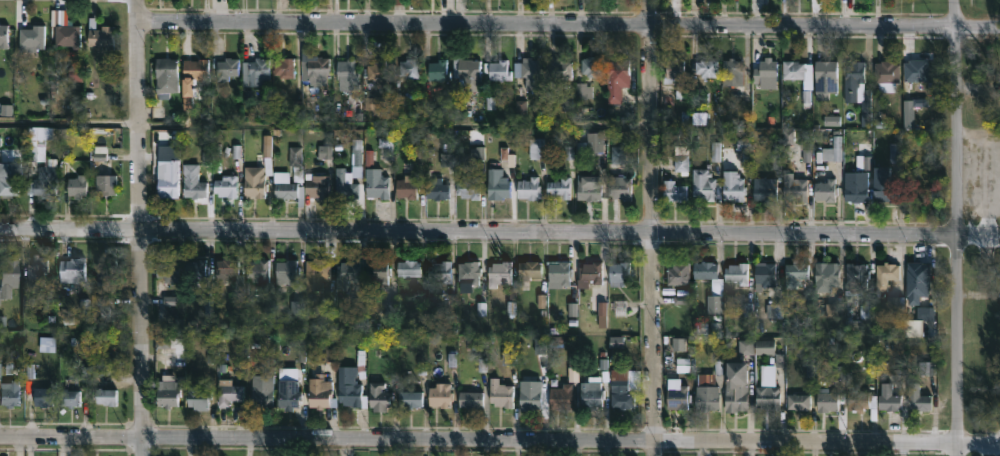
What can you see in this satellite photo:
building: (396, 1)
road: (566, 25)
building: (66, 33)
building: (100, 35)
building: (3, 36)
building: (29, 38)
building: (283, 67)
building: (225, 68)
building: (557, 68)
building: (591, 68)
building: (706, 68)
building: (314, 69)
building: (410, 69)
building: (497, 69)
building: (253, 70)
building: (438, 70)
building: (674, 70)
building: (195, 71)
building: (765, 71)
building: (886, 71)
building: (916, 71)
building: (528, 72)
building: (732, 72)
building: (380, 73)
building: (345, 74)
building: (469, 75)
building: (164, 77)
building: (616, 79)
building: (825, 79)
building: (857, 90)
building: (806, 93)
building: (377, 104)
road: (325, 123)
road: (978, 135)
building: (591, 143)
building: (538, 147)
building: (831, 149)
building: (356, 156)
building: (41, 168)
building: (258, 172)
building: (167, 173)
building: (280, 177)
building: (9, 179)
building: (192, 182)
building: (107, 184)
building: (497, 184)
building: (376, 185)
building: (704, 185)
building: (885, 185)
building: (76, 186)
building: (225, 186)
building: (344, 186)
building: (733, 186)
building: (857, 186)
building: (317, 187)
building: (468, 187)
building: (619, 187)
building: (406, 188)
building: (528, 188)
building: (559, 188)
building: (795, 188)
building: (916, 188)
building: (437, 189)
building: (587, 189)
building: (767, 190)
building: (825, 190)
building: (673, 191)
road: (137, 227)
road: (652, 227)
road: (956, 228)
road: (500, 231)
building: (194, 268)
building: (529, 268)
building: (35, 269)
building: (71, 269)
building: (167, 269)
building: (256, 269)
building: (106, 270)
building: (410, 270)
building: (442, 270)
building: (285, 271)
building: (377, 272)
building: (499, 272)
building: (558, 272)
building: (617, 272)
building: (708, 272)
building: (737, 272)
building: (315, 273)
building: (348, 273)
building: (590, 273)
building: (678, 273)
building: (795, 273)
building: (7, 274)
building: (885, 274)
building: (466, 275)
building: (764, 275)
building: (856, 276)
building: (826, 277)
building: (917, 278)
building: (238, 296)
building: (770, 350)
building: (735, 385)
building: (623, 386)
building: (348, 387)
building: (261, 389)
building: (708, 389)
building: (167, 390)
building: (319, 391)
building: (228, 392)
building: (499, 392)
building: (591, 392)
building: (9, 393)
building: (288, 393)
building: (529, 393)
building: (197, 394)
building: (439, 394)
building: (768, 394)
building: (104, 395)
building: (41, 396)
building: (378, 396)
building: (561, 396)
building: (677, 397)
building: (888, 397)
building: (409, 398)
building: (470, 399)
building: (69, 400)
building: (797, 400)
building: (826, 400)
building: (861, 401)
building: (920, 401)
road: (499, 443)

